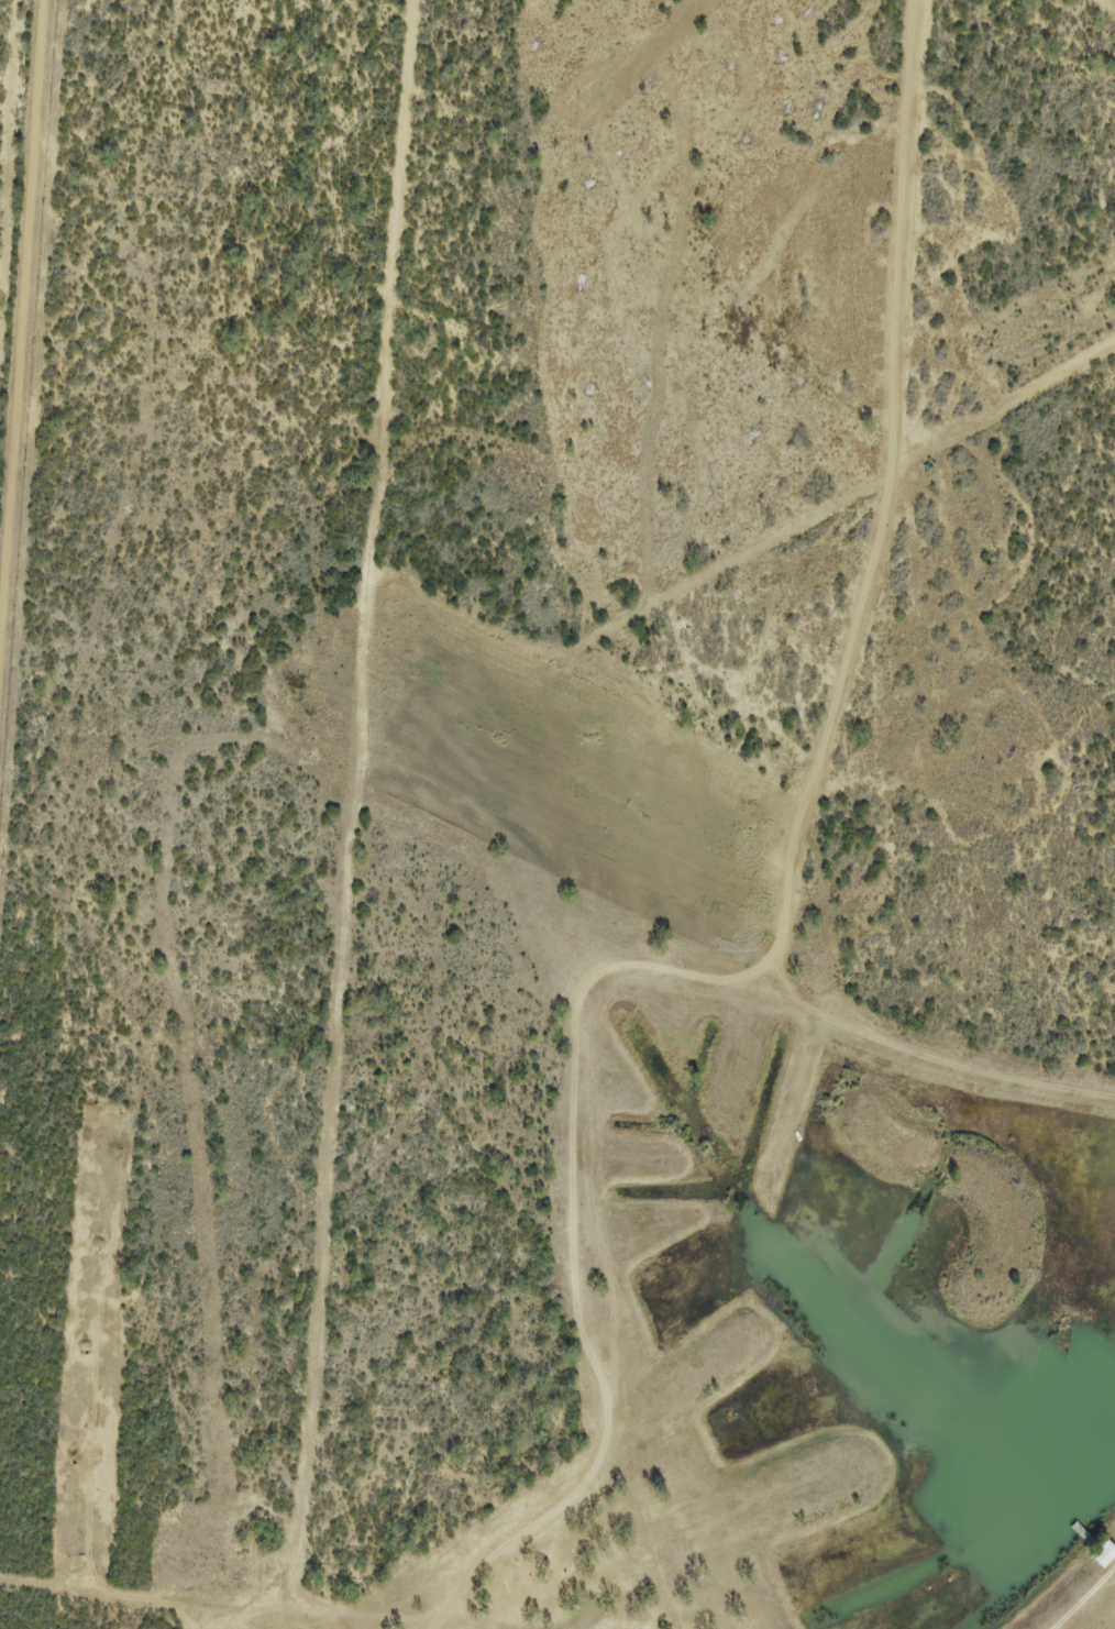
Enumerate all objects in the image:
road: (30, 339)
road: (344, 949)
building: (1104, 1554)
dam: (1083, 1597)

